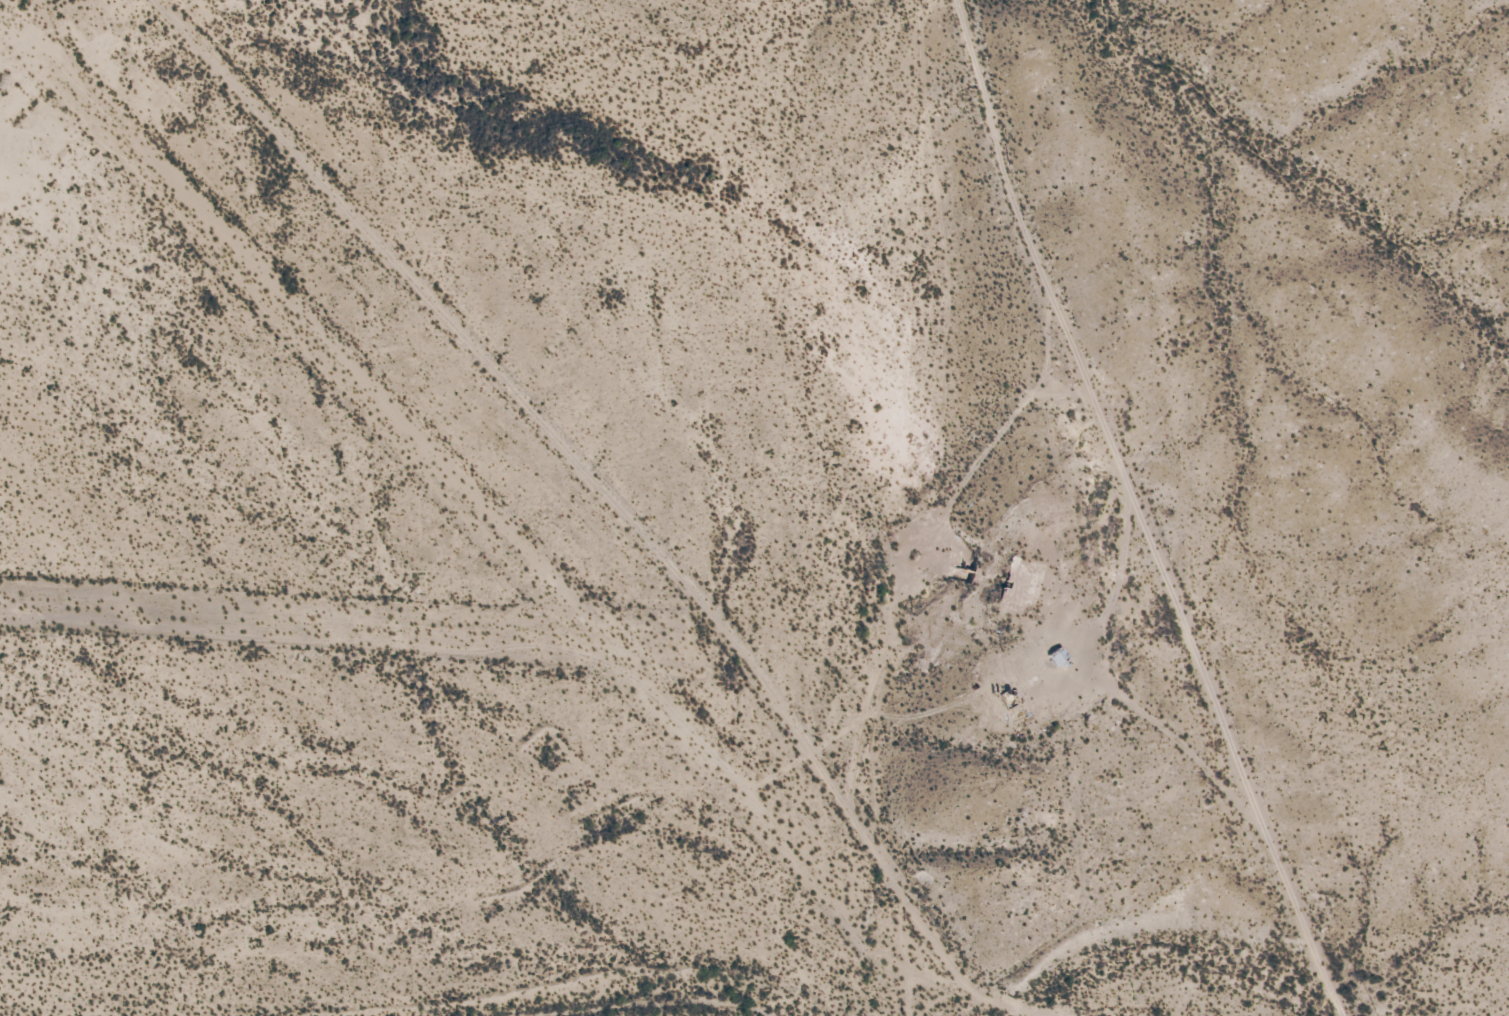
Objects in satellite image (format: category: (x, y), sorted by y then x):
road: (1033, 246)
road: (1196, 651)
road: (1112, 679)
road: (1302, 917)

